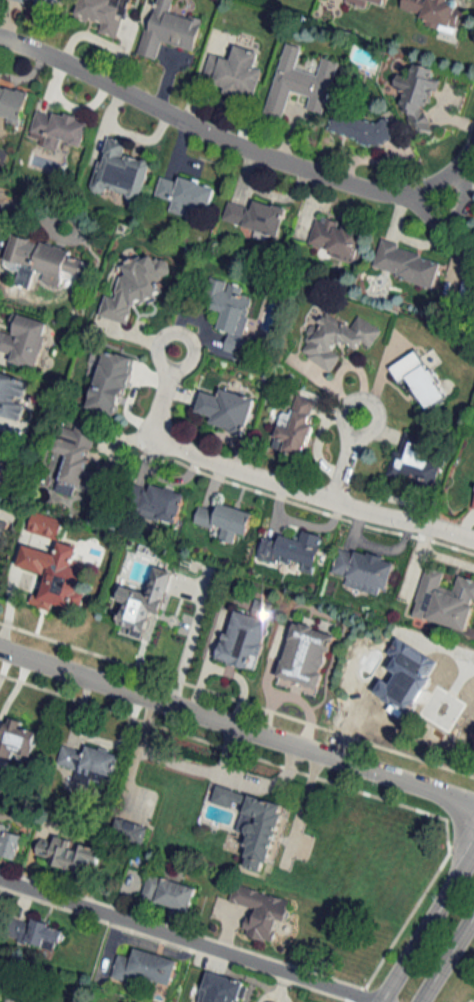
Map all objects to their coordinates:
building: (46, 2)
building: (366, 2)
building: (435, 11)
building: (104, 14)
building: (169, 29)
building: (236, 72)
building: (300, 82)
building: (417, 95)
building: (12, 102)
road: (189, 125)
building: (59, 129)
building: (361, 129)
building: (120, 171)
road: (438, 178)
building: (185, 194)
road: (455, 215)
building: (256, 217)
building: (336, 237)
building: (43, 258)
building: (406, 264)
building: (136, 287)
building: (230, 311)
building: (337, 339)
building: (24, 341)
building: (420, 378)
building: (111, 383)
building: (12, 396)
building: (227, 410)
building: (295, 427)
building: (2, 454)
building: (74, 455)
road: (347, 455)
building: (413, 460)
road: (271, 478)
building: (160, 504)
building: (473, 505)
building: (225, 520)
building: (45, 525)
building: (3, 528)
building: (294, 551)
building: (363, 570)
building: (55, 576)
building: (445, 600)
building: (144, 602)
building: (245, 636)
building: (306, 657)
road: (464, 659)
road: (237, 732)
building: (17, 740)
building: (89, 764)
building: (255, 824)
building: (130, 831)
building: (9, 842)
building: (69, 854)
building: (169, 892)
building: (261, 911)
road: (424, 921)
building: (36, 933)
road: (185, 940)
road: (446, 957)
building: (147, 968)
building: (221, 989)

